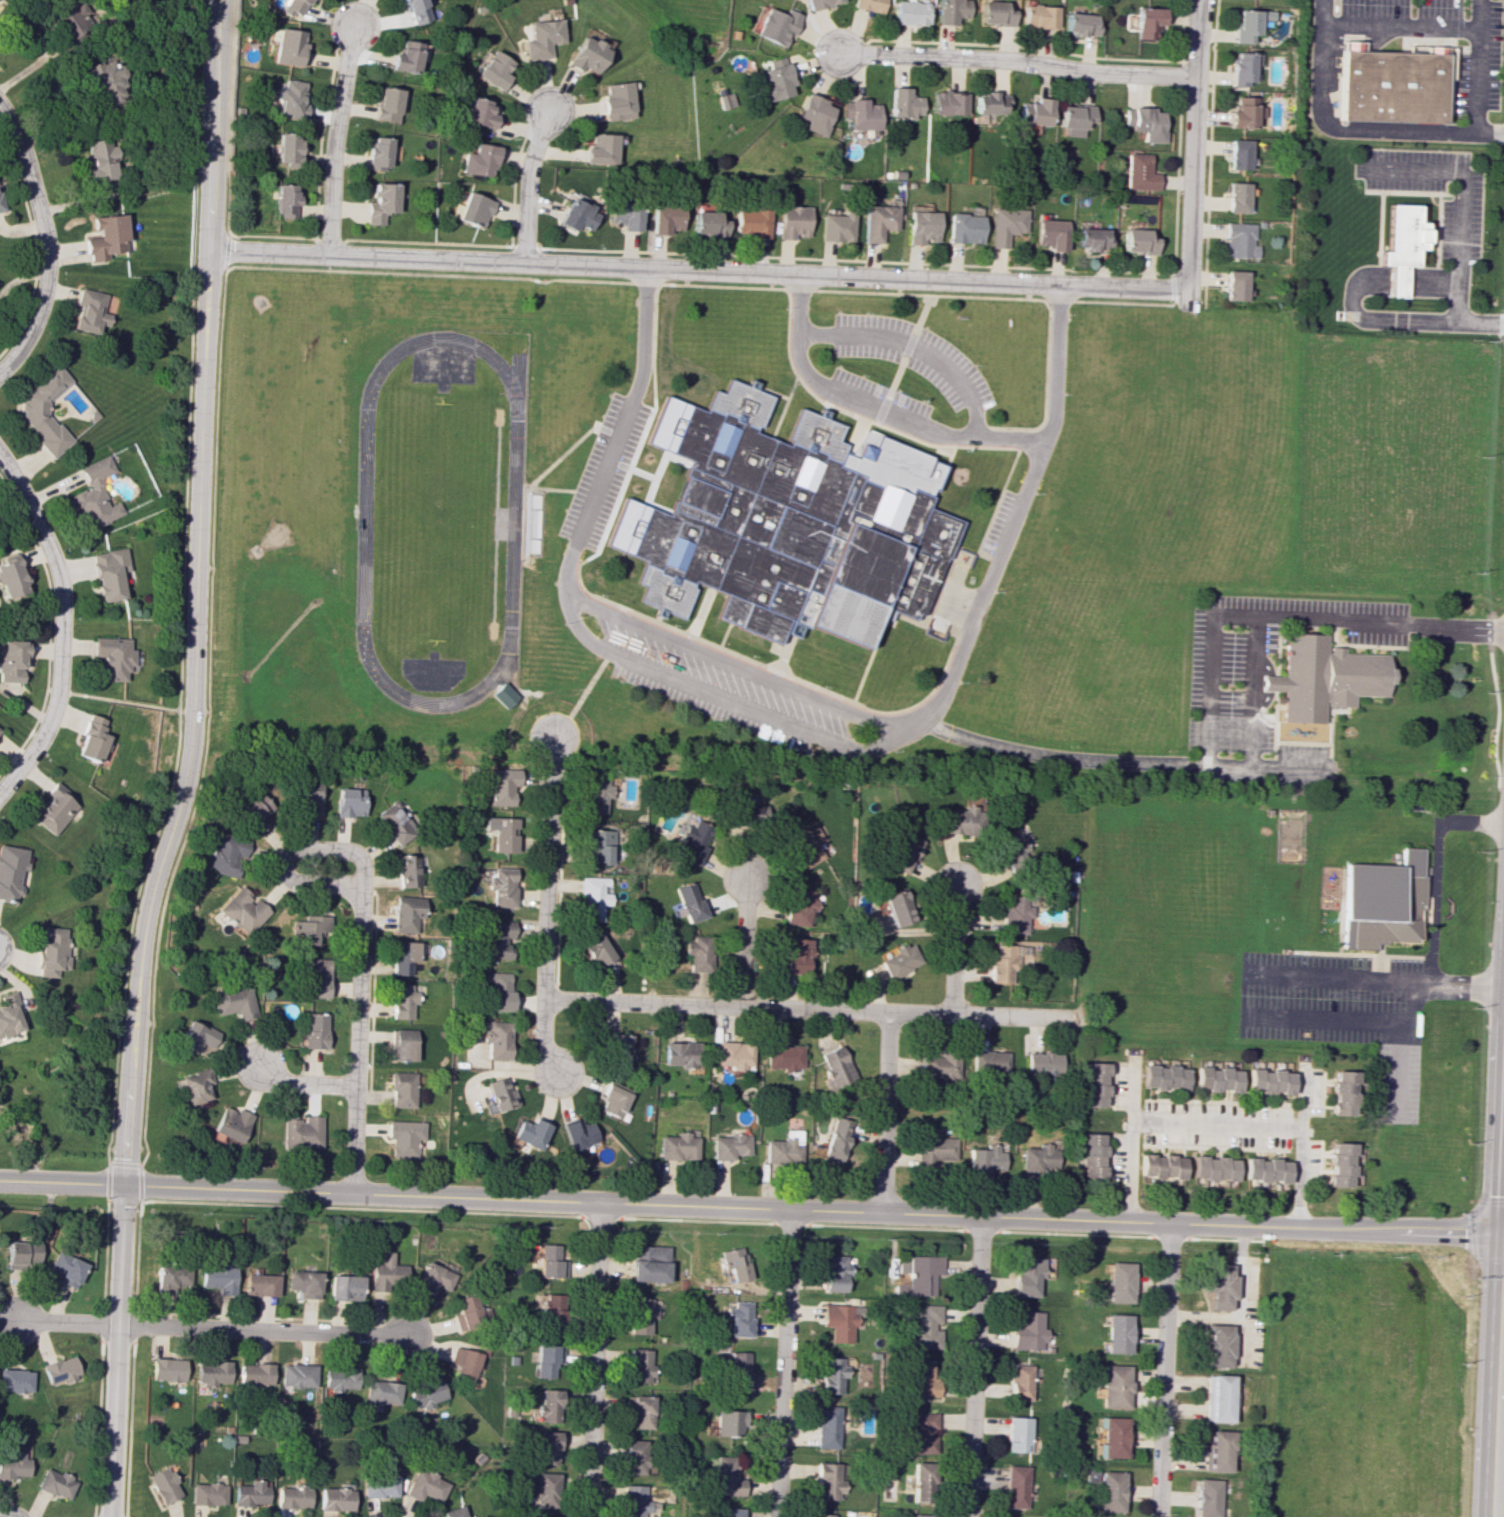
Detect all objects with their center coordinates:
building: (819, 3)
building: (868, 5)
building: (287, 6)
building: (414, 11)
building: (951, 11)
building: (910, 12)
building: (996, 12)
building: (1039, 16)
building: (67, 19)
building: (1147, 22)
building: (1249, 23)
building: (1080, 24)
building: (776, 26)
road: (1399, 27)
building: (540, 38)
building: (287, 46)
building: (586, 54)
building: (405, 56)
road: (1015, 60)
road: (1476, 66)
building: (1242, 68)
building: (494, 69)
building: (774, 80)
parking lot: (1477, 80)
building: (105, 82)
building: (1390, 82)
building: (291, 98)
building: (616, 101)
building: (904, 103)
building: (948, 103)
building: (990, 103)
building: (387, 104)
building: (1034, 112)
building: (1244, 112)
building: (478, 113)
building: (814, 114)
building: (861, 114)
building: (1074, 118)
building: (1145, 123)
road: (1350, 127)
road: (331, 138)
road: (1191, 145)
building: (287, 147)
building: (601, 149)
building: (378, 152)
building: (1238, 154)
building: (98, 159)
building: (479, 160)
building: (1139, 172)
road: (525, 186)
building: (1236, 197)
building: (286, 200)
building: (381, 202)
building: (0, 207)
building: (472, 208)
building: (625, 214)
building: (577, 215)
building: (666, 218)
building: (793, 221)
building: (878, 221)
building: (752, 222)
road: (1458, 222)
building: (708, 224)
building: (1005, 225)
building: (837, 226)
building: (921, 226)
building: (964, 228)
parking lot: (1459, 231)
building: (1050, 234)
building: (106, 237)
building: (1091, 238)
building: (1239, 240)
building: (1137, 241)
road: (43, 242)
building: (1395, 247)
road: (695, 269)
building: (1234, 285)
road: (1351, 298)
building: (90, 311)
road: (915, 346)
parking lot: (914, 355)
road: (897, 375)
parking lot: (881, 391)
road: (874, 407)
building: (45, 412)
road: (578, 439)
parking lot: (603, 471)
road: (561, 490)
building: (94, 495)
track: (513, 516)
park: (435, 520)
building: (787, 521)
parking lot: (999, 523)
building: (109, 573)
building: (11, 578)
road: (1239, 617)
road: (59, 623)
road: (1459, 627)
building: (113, 657)
building: (12, 659)
road: (737, 667)
building: (1323, 677)
parking lot: (1226, 681)
parking lot: (727, 682)
road: (1252, 692)
road: (580, 694)
building: (503, 695)
parking lot: (713, 711)
road: (786, 726)
building: (0, 732)
building: (91, 739)
road: (1060, 756)
road: (186, 761)
road: (1264, 767)
building: (500, 787)
building: (594, 792)
building: (307, 798)
building: (349, 802)
building: (54, 808)
building: (254, 812)
building: (958, 821)
building: (395, 823)
building: (501, 833)
building: (693, 841)
building: (805, 844)
building: (596, 846)
building: (1013, 850)
road: (290, 851)
building: (904, 852)
building: (224, 854)
building: (11, 870)
building: (407, 870)
building: (501, 887)
building: (594, 897)
building: (1380, 901)
building: (688, 902)
building: (799, 906)
road: (547, 907)
building: (898, 908)
road: (1432, 908)
building: (242, 910)
building: (406, 913)
building: (1016, 914)
building: (310, 929)
building: (497, 938)
road: (745, 941)
building: (595, 949)
building: (51, 950)
road: (955, 951)
building: (698, 953)
building: (797, 955)
building: (404, 956)
building: (900, 960)
building: (1003, 963)
building: (317, 977)
road: (1335, 978)
building: (497, 989)
building: (402, 1001)
building: (233, 1002)
road: (1410, 1003)
road: (809, 1009)
parking lot: (1341, 1014)
building: (9, 1015)
road: (1325, 1019)
building: (314, 1030)
building: (197, 1037)
building: (495, 1039)
road: (355, 1044)
building: (401, 1045)
building: (616, 1051)
building: (680, 1053)
building: (733, 1054)
building: (783, 1057)
building: (988, 1063)
building: (1043, 1063)
building: (835, 1067)
building: (938, 1067)
road: (1398, 1071)
building: (1164, 1077)
building: (1217, 1079)
building: (1270, 1081)
road: (303, 1084)
building: (1095, 1084)
building: (194, 1086)
building: (401, 1089)
building: (1343, 1092)
building: (497, 1094)
building: (612, 1101)
road: (884, 1114)
road: (1217, 1124)
building: (230, 1125)
building: (300, 1131)
building: (530, 1133)
building: (578, 1134)
building: (404, 1137)
building: (836, 1140)
road: (1130, 1142)
building: (677, 1146)
building: (728, 1146)
road: (1301, 1146)
building: (783, 1148)
building: (935, 1149)
building: (1092, 1155)
building: (1038, 1157)
building: (985, 1159)
building: (1341, 1164)
building: (1161, 1166)
building: (1214, 1168)
building: (1266, 1169)
road: (751, 1209)
road: (1470, 1230)
building: (20, 1253)
building: (550, 1261)
building: (649, 1263)
building: (734, 1263)
building: (66, 1268)
building: (385, 1272)
building: (835, 1272)
building: (922, 1274)
building: (1026, 1275)
building: (171, 1276)
building: (432, 1277)
building: (218, 1278)
building: (1119, 1282)
building: (303, 1283)
building: (259, 1285)
building: (344, 1287)
building: (1220, 1287)
building: (551, 1309)
building: (465, 1311)
building: (641, 1315)
building: (738, 1318)
building: (840, 1322)
building: (923, 1328)
road: (212, 1329)
building: (1028, 1331)
building: (1117, 1333)
building: (1218, 1345)
road: (593, 1360)
building: (544, 1361)
building: (464, 1363)
road: (781, 1364)
building: (639, 1365)
road: (973, 1367)
building: (167, 1369)
building: (60, 1370)
road: (1162, 1370)
building: (212, 1372)
building: (737, 1372)
building: (255, 1373)
building: (830, 1374)
building: (297, 1375)
building: (340, 1378)
building: (921, 1378)
building: (15, 1380)
building: (1019, 1382)
building: (1114, 1386)
building: (382, 1391)
building: (427, 1394)
building: (1218, 1398)
building: (547, 1406)
building: (639, 1410)
building: (728, 1422)
building: (826, 1427)
building: (922, 1433)
building: (1016, 1434)
building: (1111, 1437)
building: (546, 1447)
building: (1217, 1450)
building: (633, 1456)
building: (13, 1464)
building: (1088, 1476)
building: (726, 1477)
building: (827, 1481)
building: (921, 1482)
building: (55, 1483)
building: (163, 1484)
building: (378, 1486)
building: (425, 1486)
building: (1015, 1486)
road: (1502, 1488)
building: (545, 1489)
building: (1110, 1491)
building: (207, 1493)
building: (250, 1493)
building: (293, 1496)
building: (1207, 1497)
building: (335, 1499)
building: (633, 1500)
building: (453, 1512)
building: (729, 1512)
building: (821, 1515)
building: (920, 1515)
building: (542, 1516)

